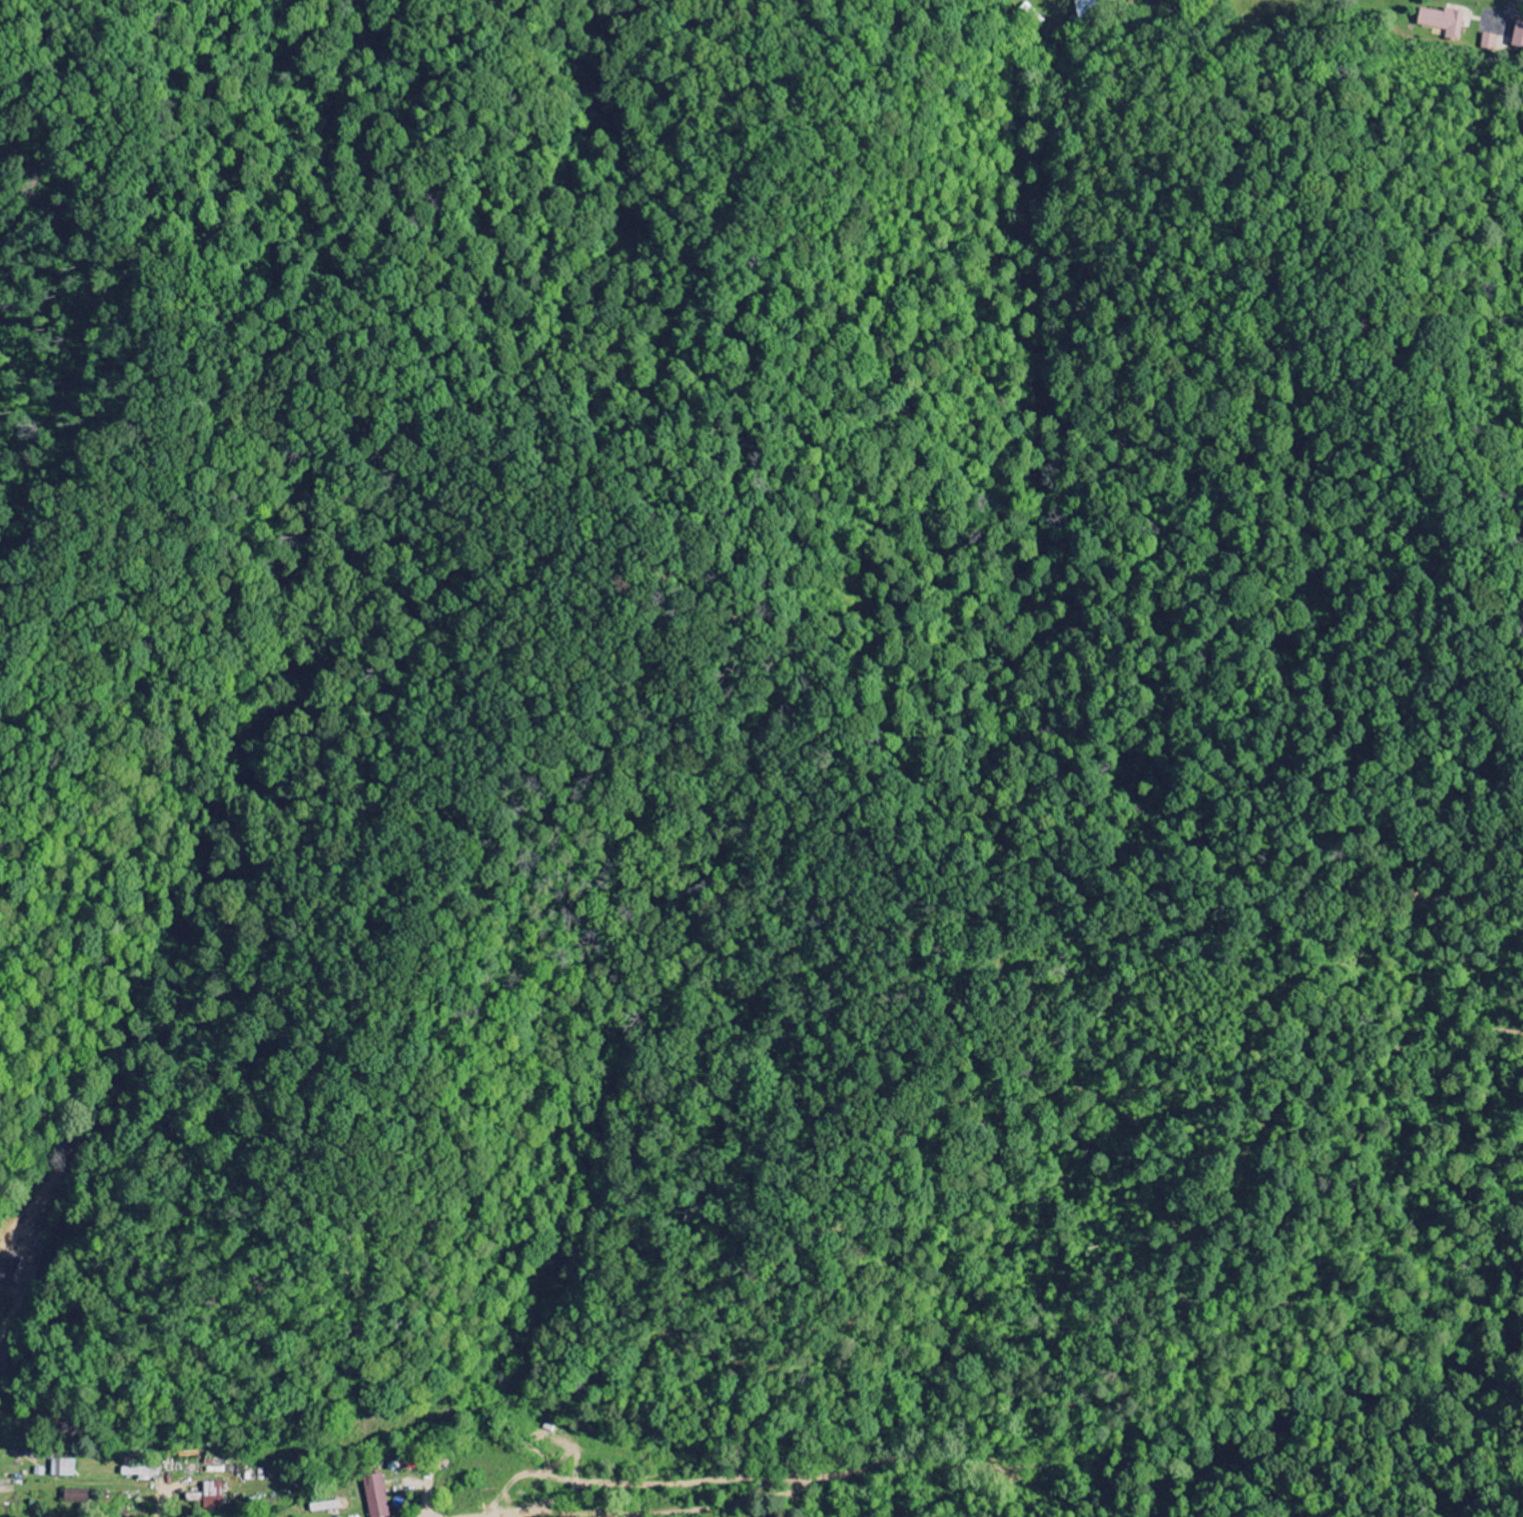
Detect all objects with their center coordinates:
building: (1442, 22)
building: (1518, 35)
building: (62, 1469)
building: (138, 1473)
building: (374, 1496)
building: (206, 1497)
building: (77, 1498)
building: (324, 1507)

